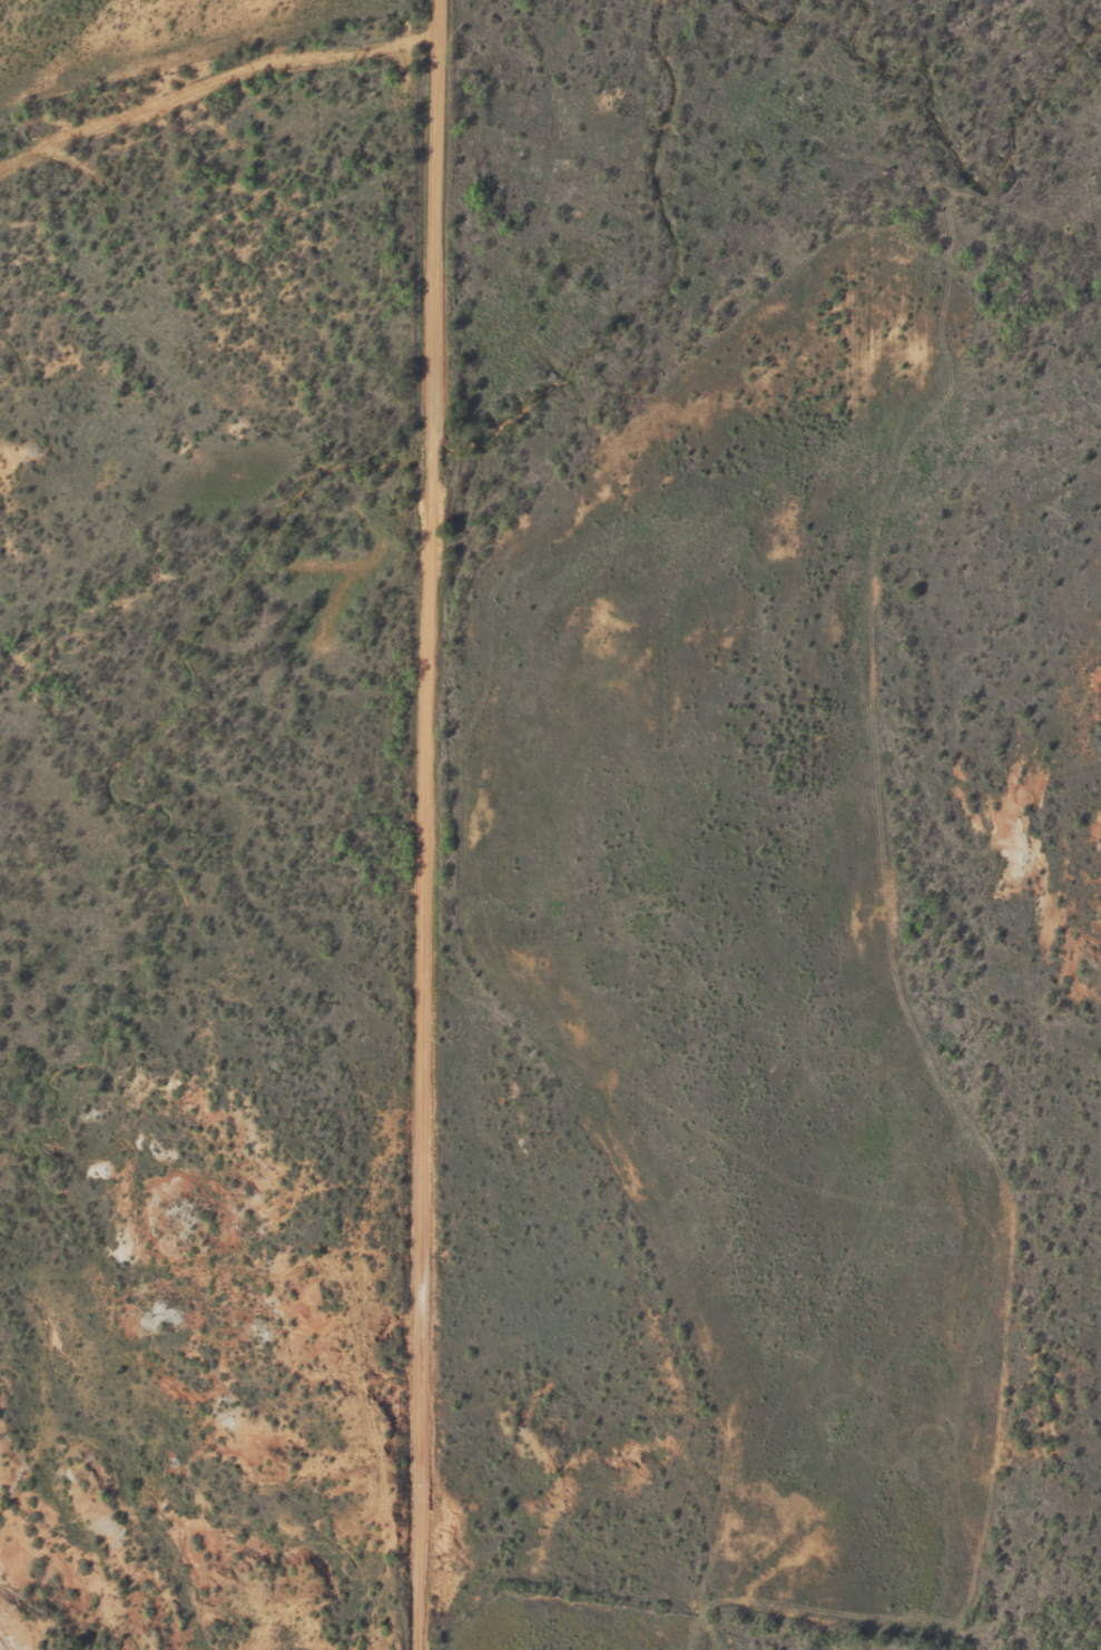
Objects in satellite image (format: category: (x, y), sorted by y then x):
road: (219, 91)
road: (427, 824)

